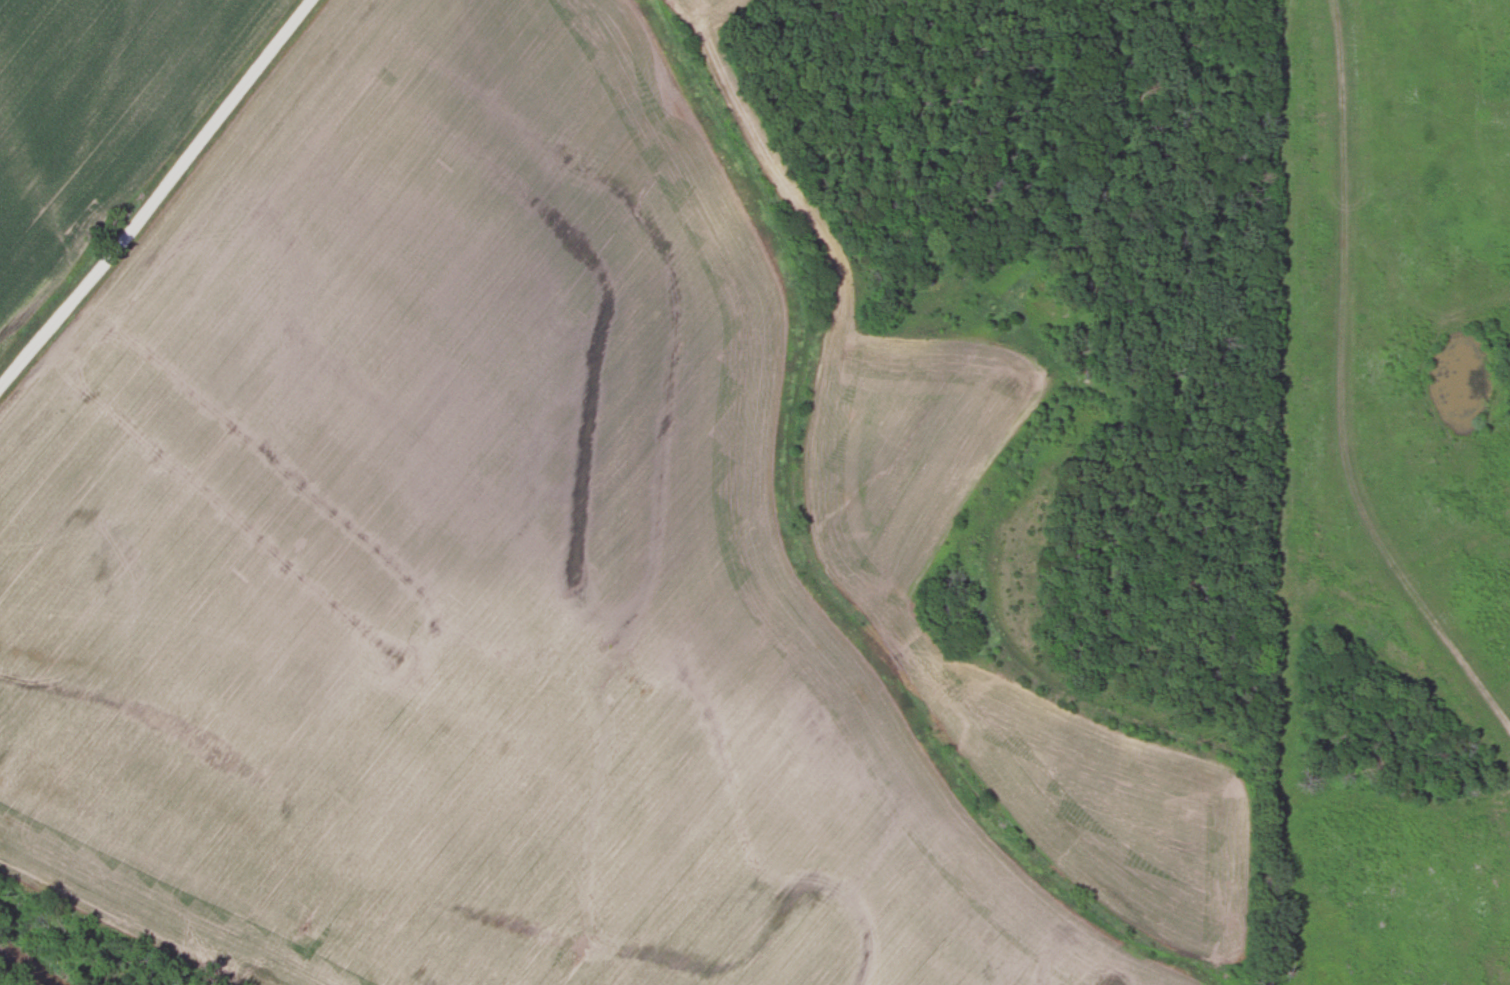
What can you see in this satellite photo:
road: (156, 194)

